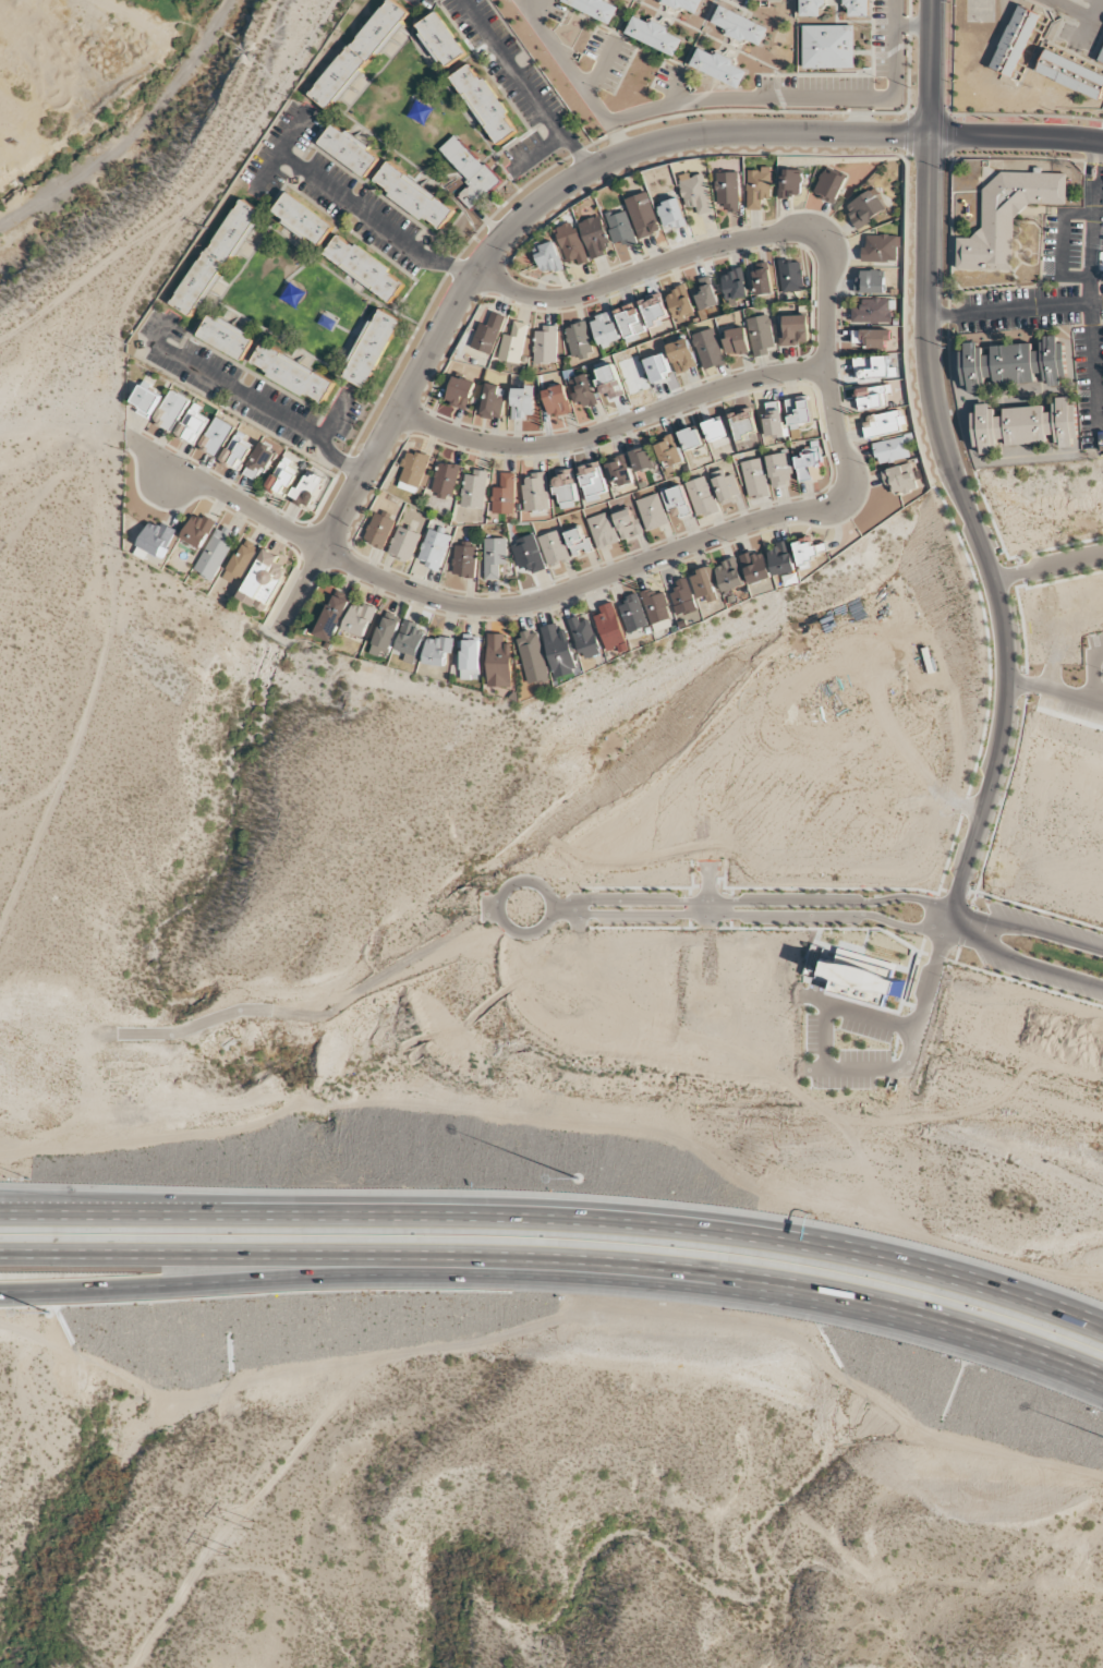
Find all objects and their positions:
building: (684, 5)
building: (596, 8)
road: (538, 9)
building: (814, 9)
building: (857, 9)
road: (1066, 10)
road: (1087, 21)
road: (913, 26)
building: (740, 27)
building: (656, 35)
building: (440, 40)
building: (1016, 41)
building: (829, 47)
road: (895, 50)
building: (359, 53)
building: (1101, 58)
road: (601, 67)
building: (719, 67)
road: (931, 67)
park: (84, 73)
building: (1069, 74)
road: (573, 76)
road: (524, 86)
road: (677, 89)
road: (749, 98)
building: (485, 104)
road: (862, 118)
road: (1017, 136)
road: (909, 144)
road: (948, 145)
road: (280, 148)
building: (350, 150)
road: (535, 155)
road: (907, 156)
road: (950, 158)
road: (1092, 161)
road: (1089, 165)
road: (1098, 166)
road: (949, 168)
building: (470, 171)
building: (790, 184)
building: (829, 186)
building: (757, 188)
building: (727, 191)
building: (696, 193)
building: (414, 196)
building: (863, 209)
building: (671, 214)
building: (643, 215)
building: (1006, 217)
building: (303, 220)
road: (373, 221)
building: (620, 229)
road: (772, 232)
road: (502, 234)
building: (594, 238)
building: (571, 243)
road: (1060, 246)
building: (881, 249)
building: (547, 257)
building: (217, 258)
road: (506, 261)
building: (365, 268)
road: (497, 270)
road: (602, 271)
building: (790, 276)
building: (761, 280)
building: (870, 282)
building: (734, 286)
building: (705, 293)
building: (680, 304)
building: (654, 310)
building: (872, 311)
road: (1016, 311)
road: (947, 316)
road: (1090, 318)
building: (630, 322)
building: (606, 329)
building: (795, 330)
building: (488, 334)
building: (760, 336)
building: (227, 337)
building: (871, 338)
building: (579, 340)
building: (736, 341)
building: (513, 343)
building: (545, 346)
building: (371, 349)
building: (708, 350)
building: (682, 355)
building: (1014, 365)
building: (871, 367)
building: (292, 374)
building: (610, 383)
building: (583, 391)
building: (460, 392)
road: (246, 398)
building: (872, 398)
building: (146, 401)
building: (556, 401)
building: (493, 402)
building: (522, 402)
building: (171, 410)
building: (798, 412)
road: (334, 416)
building: (774, 421)
building: (743, 424)
building: (883, 424)
building: (192, 425)
building: (1025, 425)
road: (609, 428)
building: (716, 433)
building: (216, 436)
building: (691, 438)
building: (890, 450)
building: (668, 451)
building: (237, 452)
building: (642, 459)
building: (260, 461)
building: (809, 466)
building: (779, 470)
building: (414, 472)
building: (618, 472)
building: (282, 478)
building: (754, 479)
building: (899, 479)
building: (446, 480)
building: (593, 482)
building: (726, 488)
building: (307, 489)
building: (474, 489)
building: (566, 491)
road: (980, 491)
building: (535, 493)
building: (505, 495)
building: (701, 497)
building: (677, 500)
building: (652, 512)
building: (627, 524)
building: (379, 529)
building: (197, 531)
building: (603, 531)
road: (978, 537)
building: (155, 541)
building: (578, 542)
building: (403, 544)
building: (554, 548)
building: (435, 549)
building: (809, 551)
building: (529, 553)
building: (215, 554)
building: (494, 557)
building: (464, 561)
road: (1019, 561)
building: (242, 563)
building: (783, 564)
road: (1047, 566)
road: (334, 567)
building: (755, 567)
road: (322, 569)
road: (1021, 572)
building: (729, 576)
building: (265, 579)
road: (1059, 581)
building: (704, 584)
building: (682, 599)
building: (656, 606)
road: (475, 607)
building: (632, 614)
building: (331, 618)
building: (359, 619)
building: (609, 627)
road: (1021, 627)
building: (385, 636)
building: (585, 638)
building: (411, 639)
parking lot: (1096, 644)
building: (558, 651)
building: (436, 652)
building: (532, 658)
building: (470, 660)
building: (498, 662)
road: (1094, 674)
road: (1026, 686)
road: (1056, 690)
parking lot: (1070, 702)
road: (1002, 802)
road: (963, 806)
road: (948, 856)
road: (717, 880)
road: (695, 886)
road: (706, 886)
road: (649, 889)
road: (816, 890)
road: (509, 891)
road: (943, 891)
road: (689, 893)
road: (968, 893)
road: (730, 894)
road: (956, 894)
road: (708, 895)
road: (843, 902)
road: (563, 908)
road: (689, 909)
road: (730, 909)
road: (1039, 910)
road: (844, 914)
road: (930, 917)
road: (577, 920)
road: (689, 924)
road: (730, 924)
road: (965, 928)
road: (581, 929)
road: (642, 929)
road: (706, 929)
road: (825, 929)
road: (921, 944)
road: (956, 954)
road: (936, 957)
building: (848, 972)
road: (1023, 983)
road: (924, 1003)
road: (859, 1013)
road: (827, 1038)
road: (856, 1071)
road: (558, 1220)
road: (558, 1259)
road: (192, 1273)

